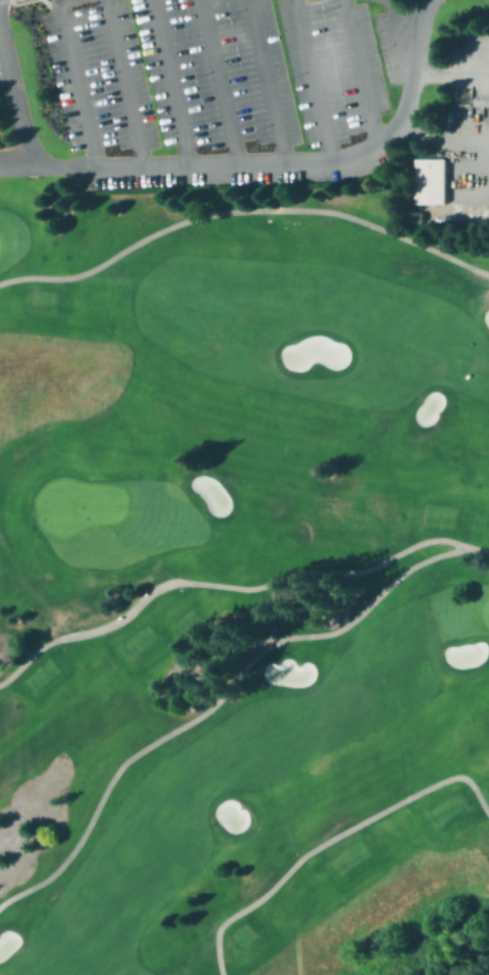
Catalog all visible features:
road: (0, 0)
road: (17, 1)
road: (51, 6)
road: (360, 76)
road: (451, 78)
road: (315, 81)
road: (267, 84)
road: (78, 85)
road: (128, 85)
road: (172, 85)
road: (223, 85)
road: (446, 140)
road: (17, 161)
road: (221, 170)
building: (432, 184)
road: (242, 208)
building: (414, 215)
park: (244, 487)
road: (474, 547)
road: (413, 564)
road: (330, 836)

